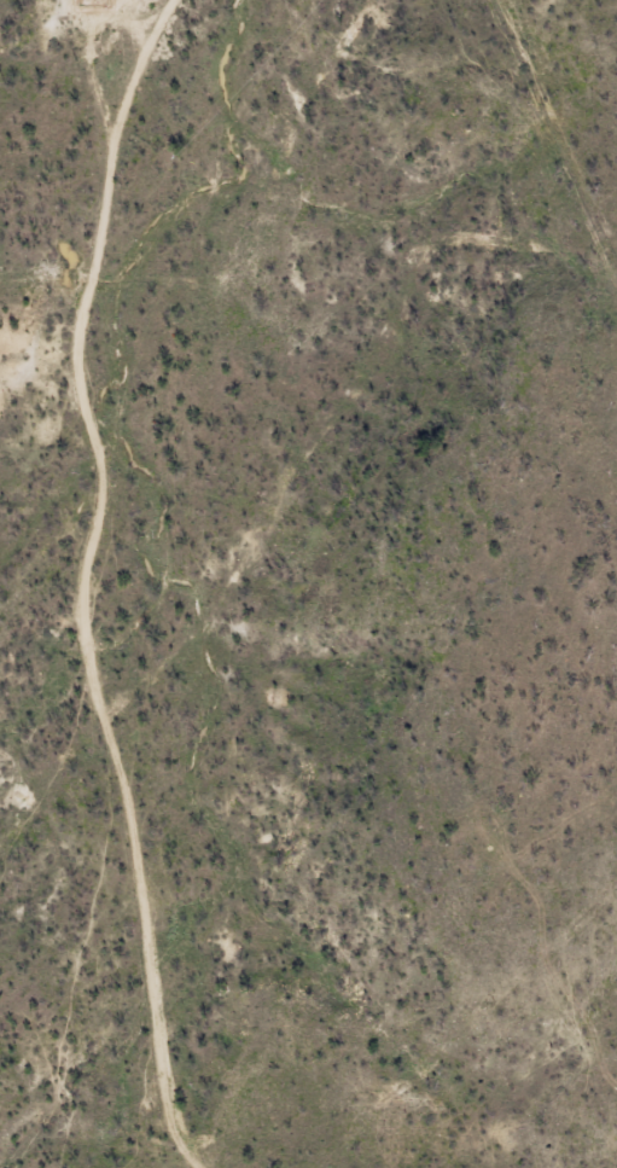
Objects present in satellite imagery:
road: (109, 593)

